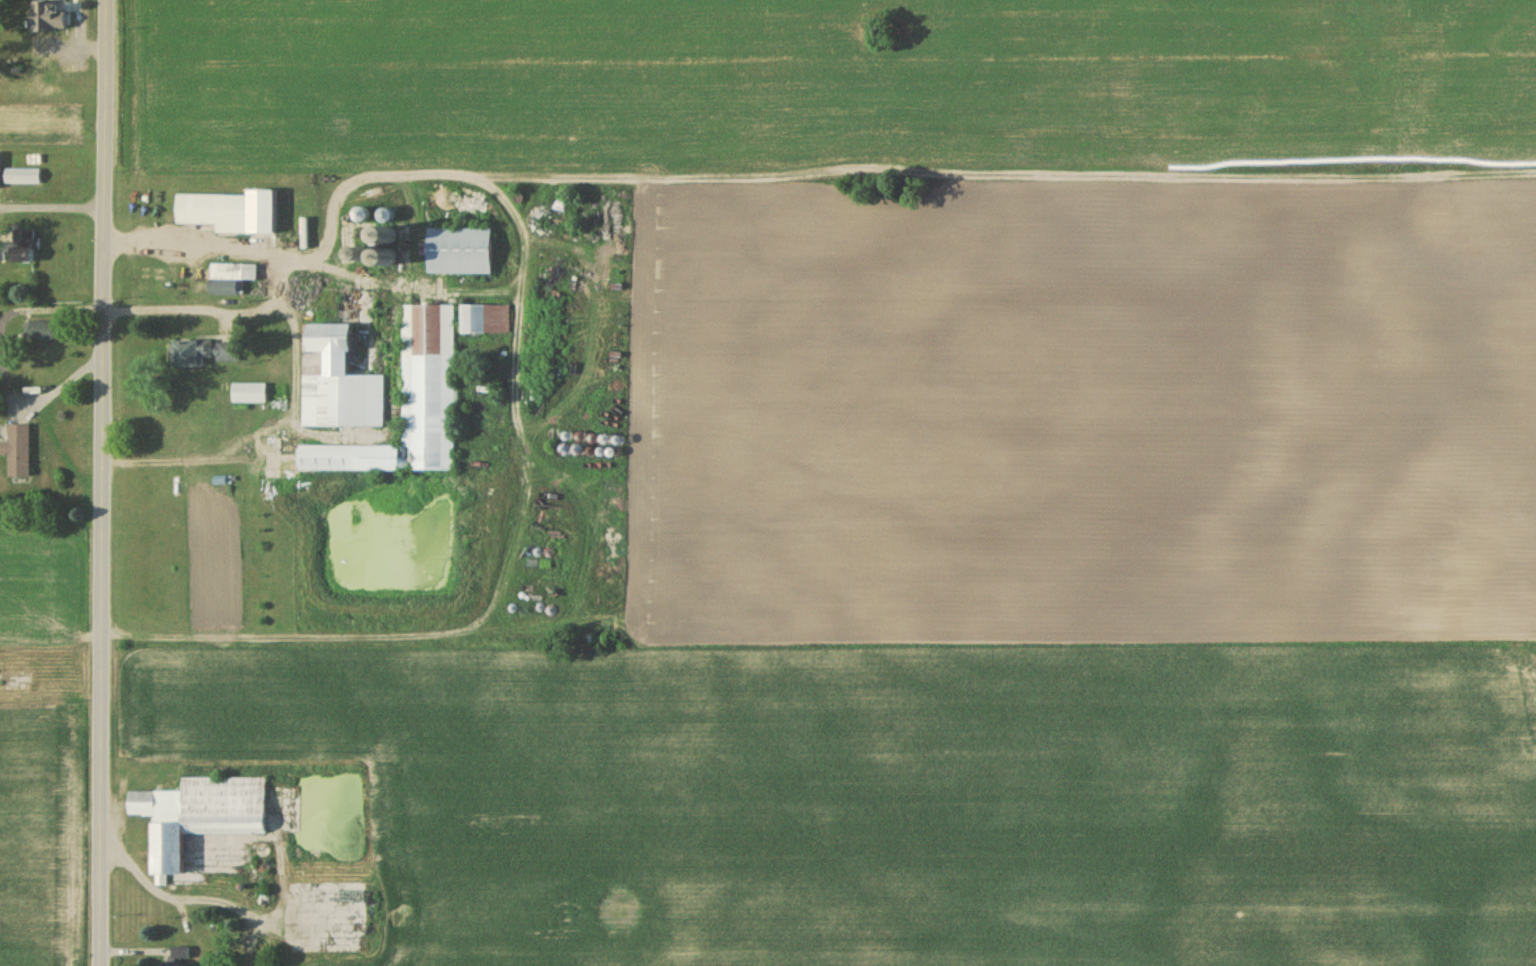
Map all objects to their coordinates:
building: (50, 15)
building: (21, 175)
building: (561, 200)
road: (52, 207)
building: (215, 211)
building: (381, 235)
building: (458, 250)
building: (381, 257)
building: (228, 276)
road: (279, 281)
road: (49, 305)
building: (484, 317)
building: (38, 329)
building: (199, 352)
building: (344, 365)
road: (296, 369)
road: (516, 376)
building: (247, 392)
road: (34, 398)
building: (408, 403)
building: (16, 450)
road: (103, 482)
building: (419, 565)
building: (200, 816)

